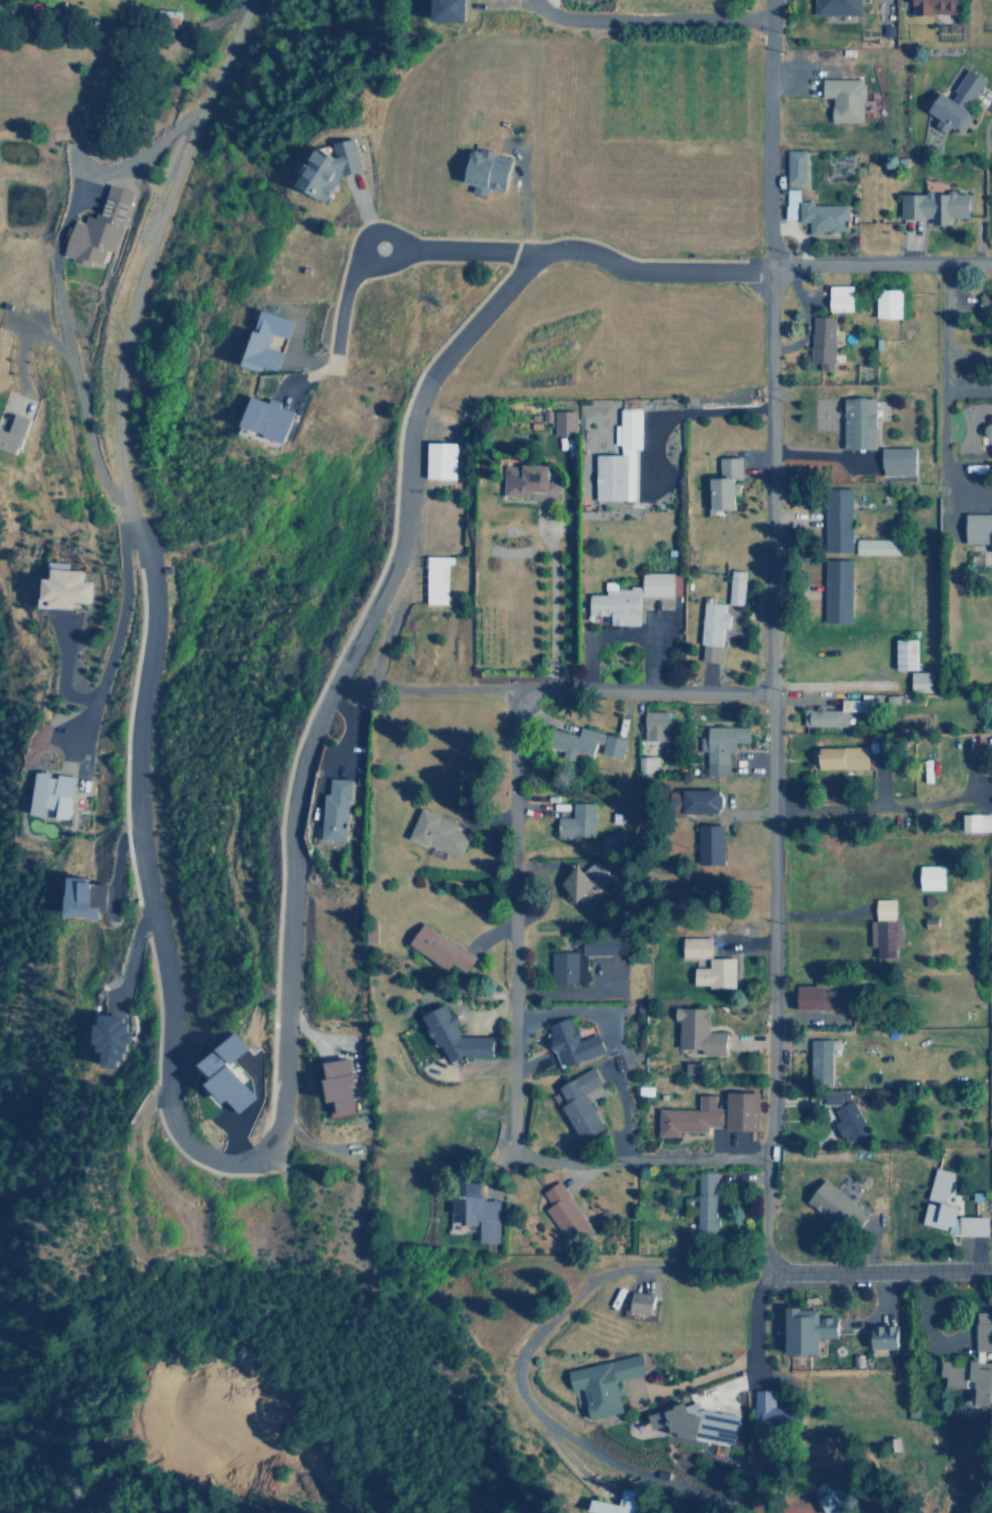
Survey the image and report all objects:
road: (647, 19)
road: (78, 161)
road: (377, 230)
road: (464, 250)
road: (880, 264)
road: (647, 269)
road: (56, 281)
road: (342, 300)
road: (23, 336)
road: (941, 384)
road: (113, 641)
road: (188, 661)
road: (62, 664)
road: (519, 688)
road: (772, 691)
road: (349, 723)
road: (872, 810)
road: (512, 919)
road: (132, 953)
road: (166, 1083)
road: (641, 1156)
road: (876, 1268)
road: (518, 1378)

